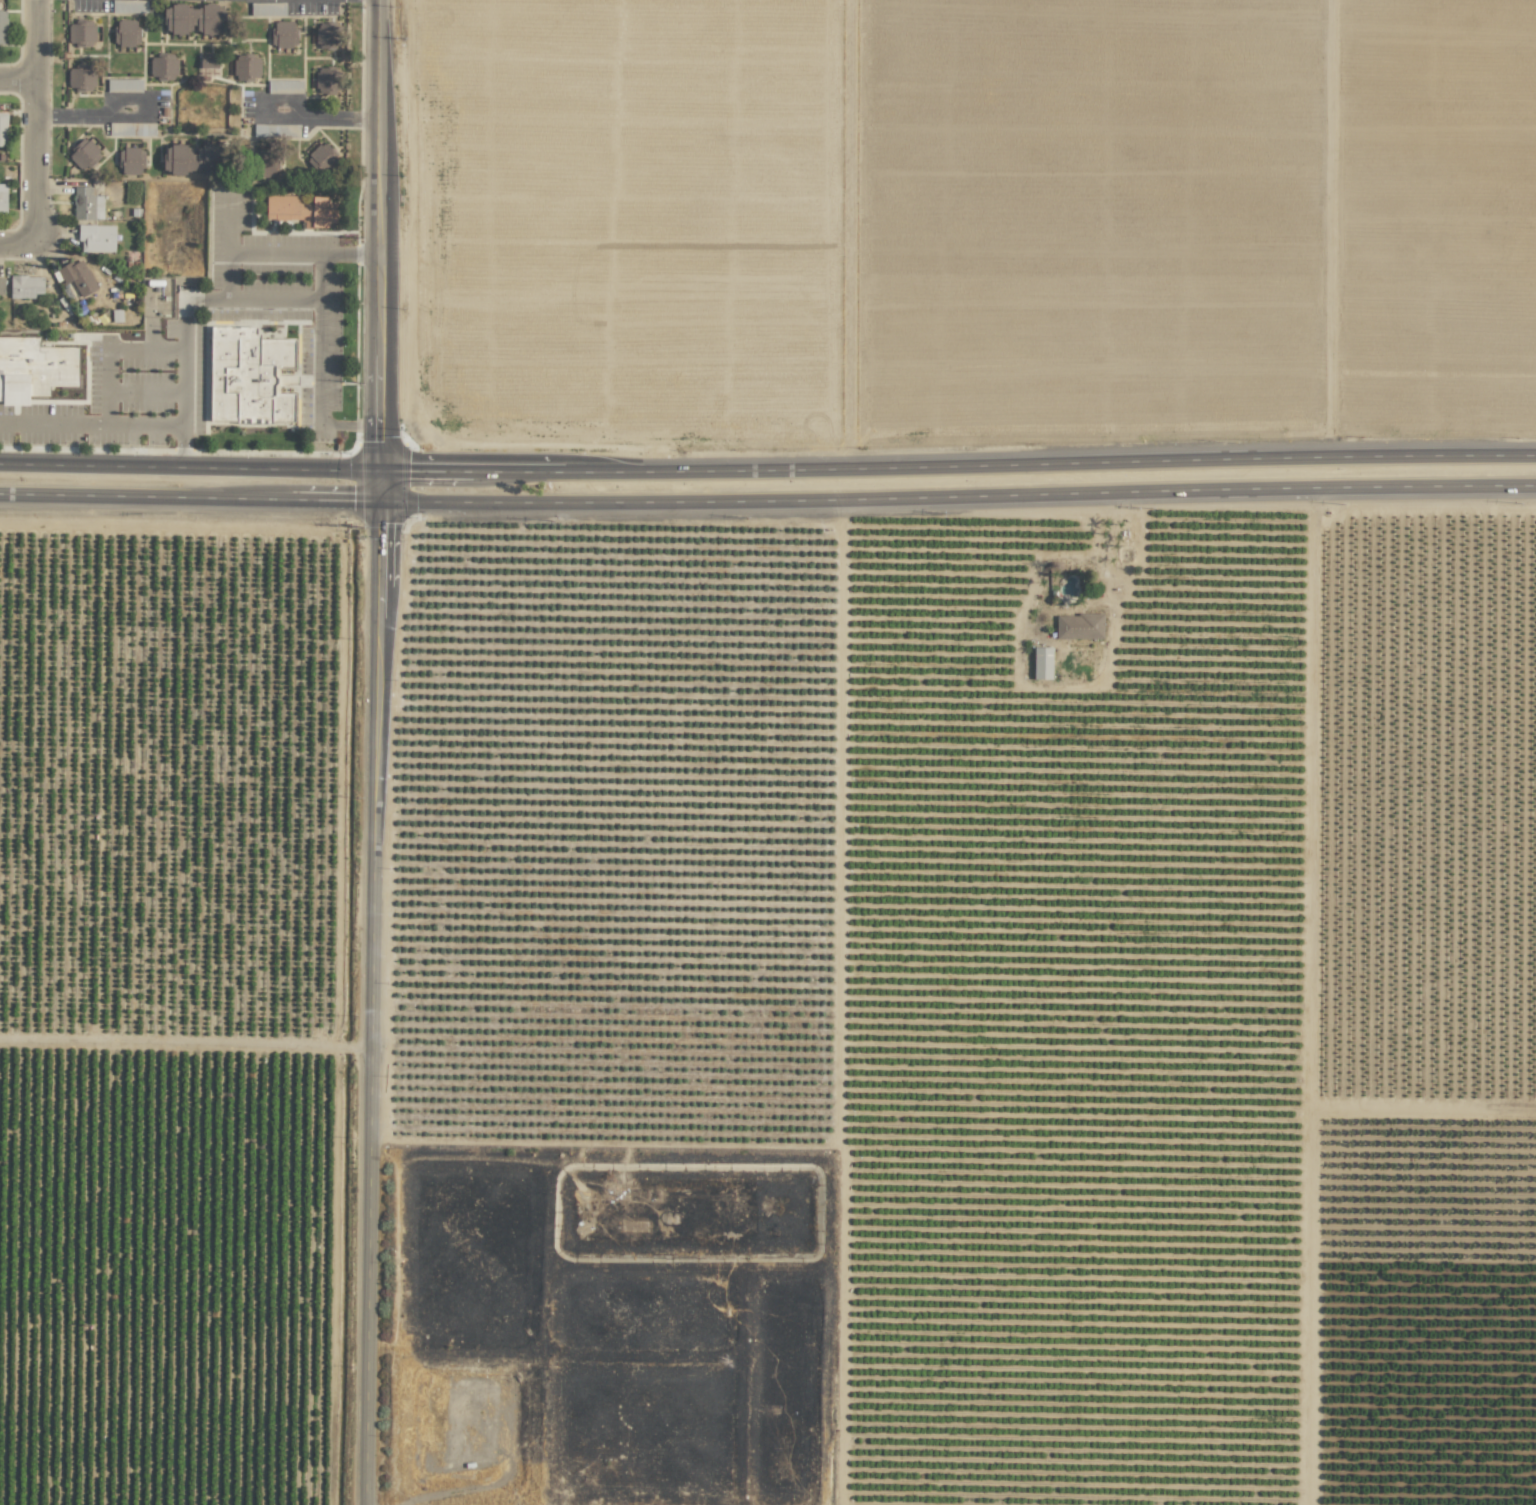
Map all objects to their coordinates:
building: (129, 6)
building: (267, 8)
building: (193, 19)
building: (2, 27)
building: (126, 32)
building: (81, 33)
building: (283, 34)
building: (327, 35)
building: (208, 65)
building: (162, 67)
building: (246, 67)
building: (80, 77)
building: (328, 80)
building: (123, 85)
building: (284, 86)
road: (20, 91)
road: (114, 106)
road: (322, 117)
road: (39, 124)
building: (3, 129)
building: (131, 129)
building: (276, 130)
building: (83, 154)
building: (322, 158)
building: (190, 159)
building: (130, 161)
building: (267, 165)
building: (2, 201)
building: (86, 204)
building: (302, 210)
building: (96, 238)
road: (19, 248)
road: (246, 251)
building: (77, 277)
building: (25, 286)
building: (1, 288)
road: (275, 299)
road: (322, 311)
road: (188, 321)
road: (108, 349)
building: (34, 368)
building: (248, 376)
road: (146, 390)
road: (349, 424)
road: (112, 426)
road: (956, 466)
road: (188, 468)
traffic signals: (377, 472)
road: (956, 496)
road: (188, 497)
traffic signals: (377, 501)
building: (1078, 626)
building: (1041, 663)
road: (374, 752)
road: (185, 1043)
wastewater plant: (793, 1335)

